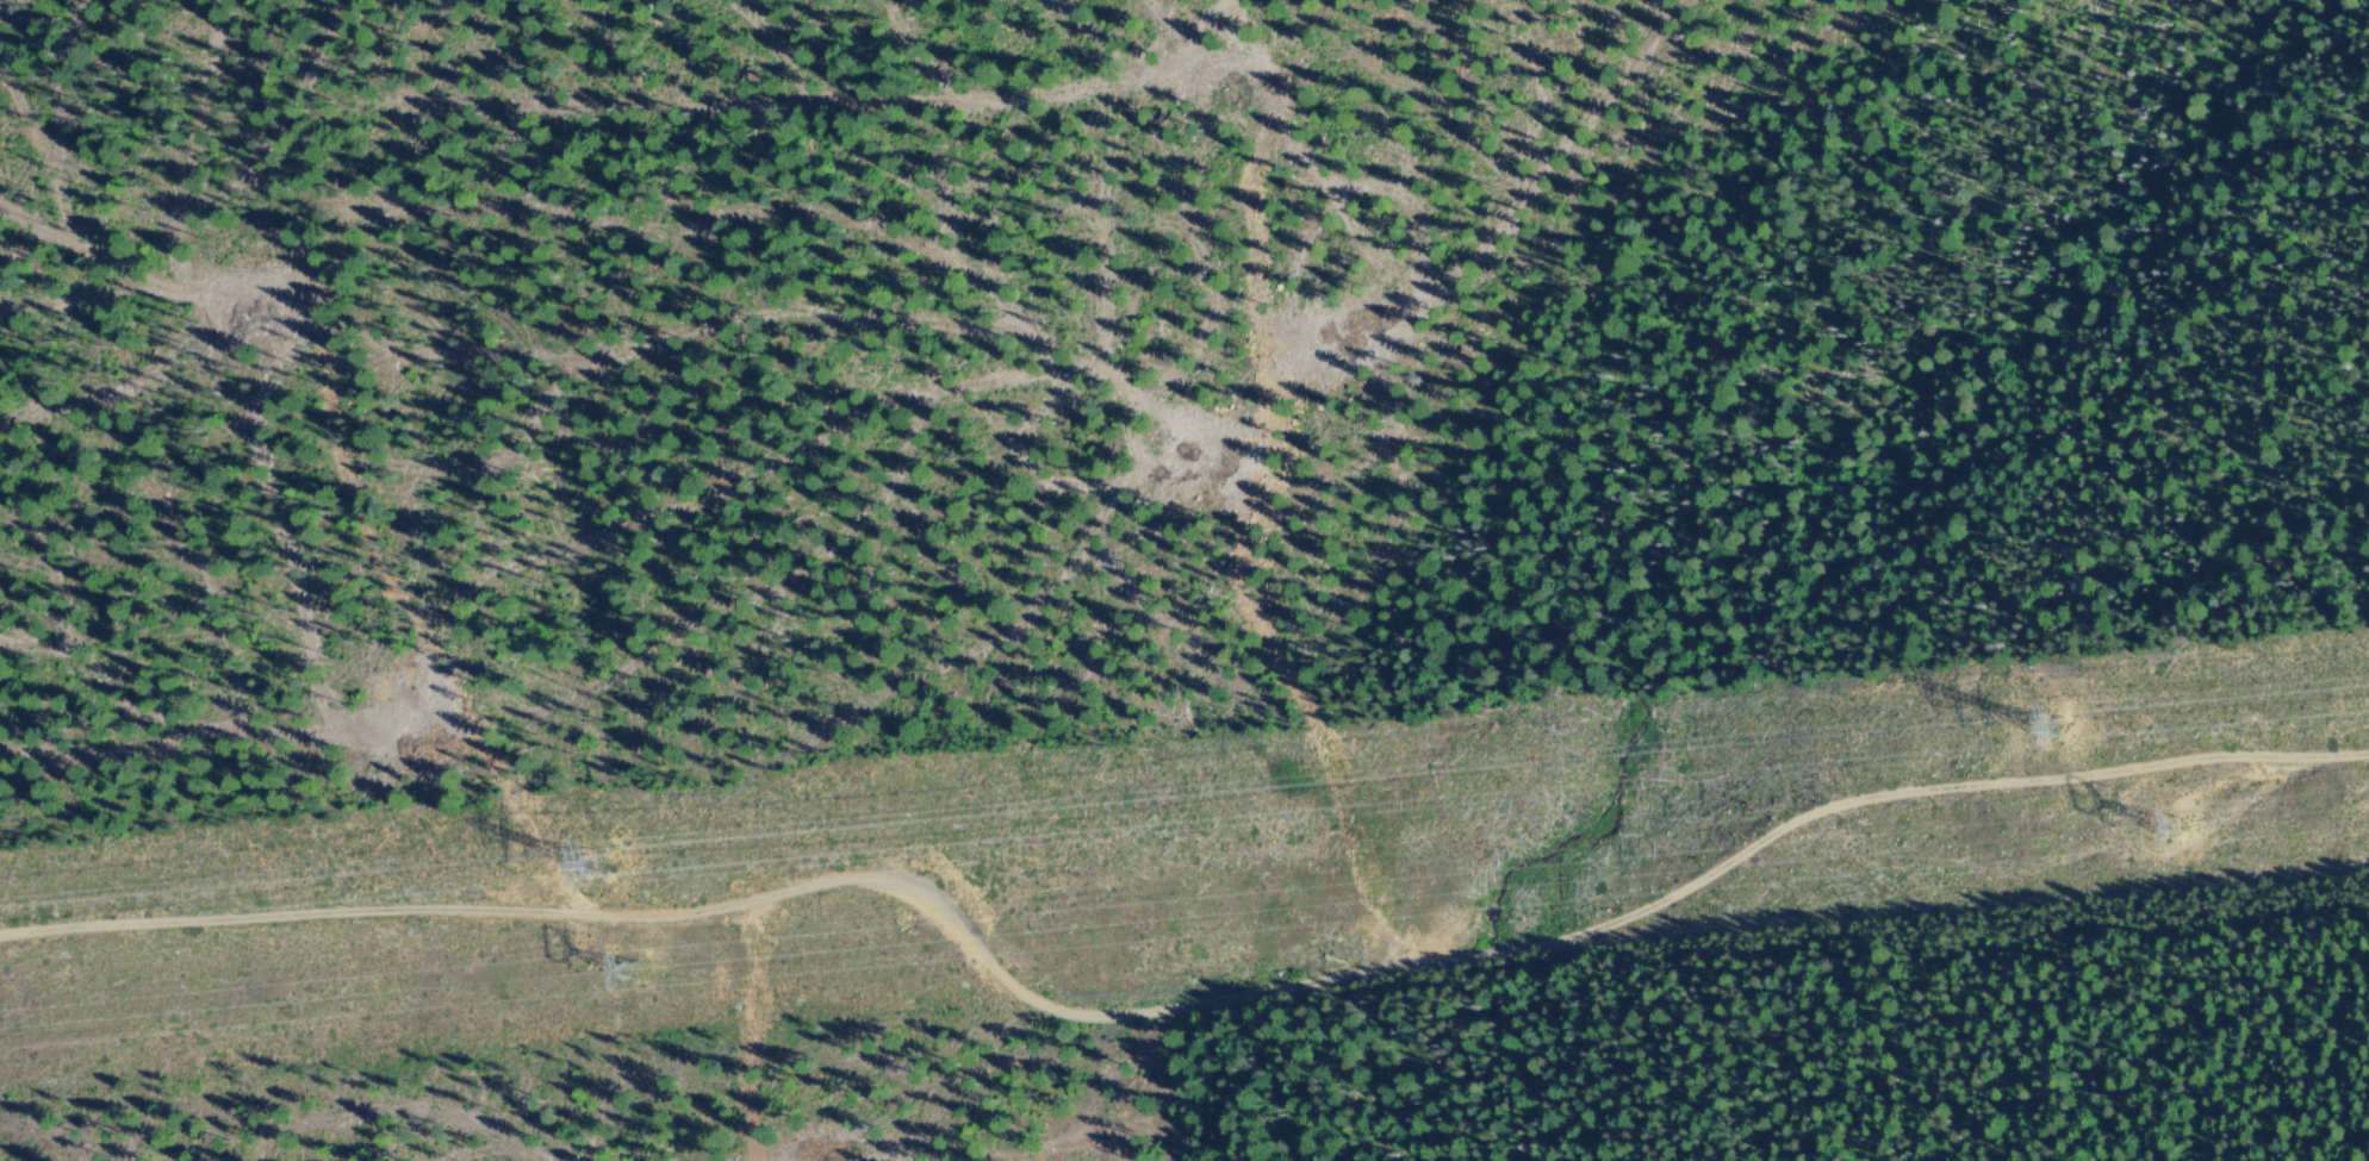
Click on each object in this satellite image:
power tower: (2050, 725)
power tower: (2171, 823)
power tower: (614, 853)
power tower: (640, 963)
road: (1174, 1003)

